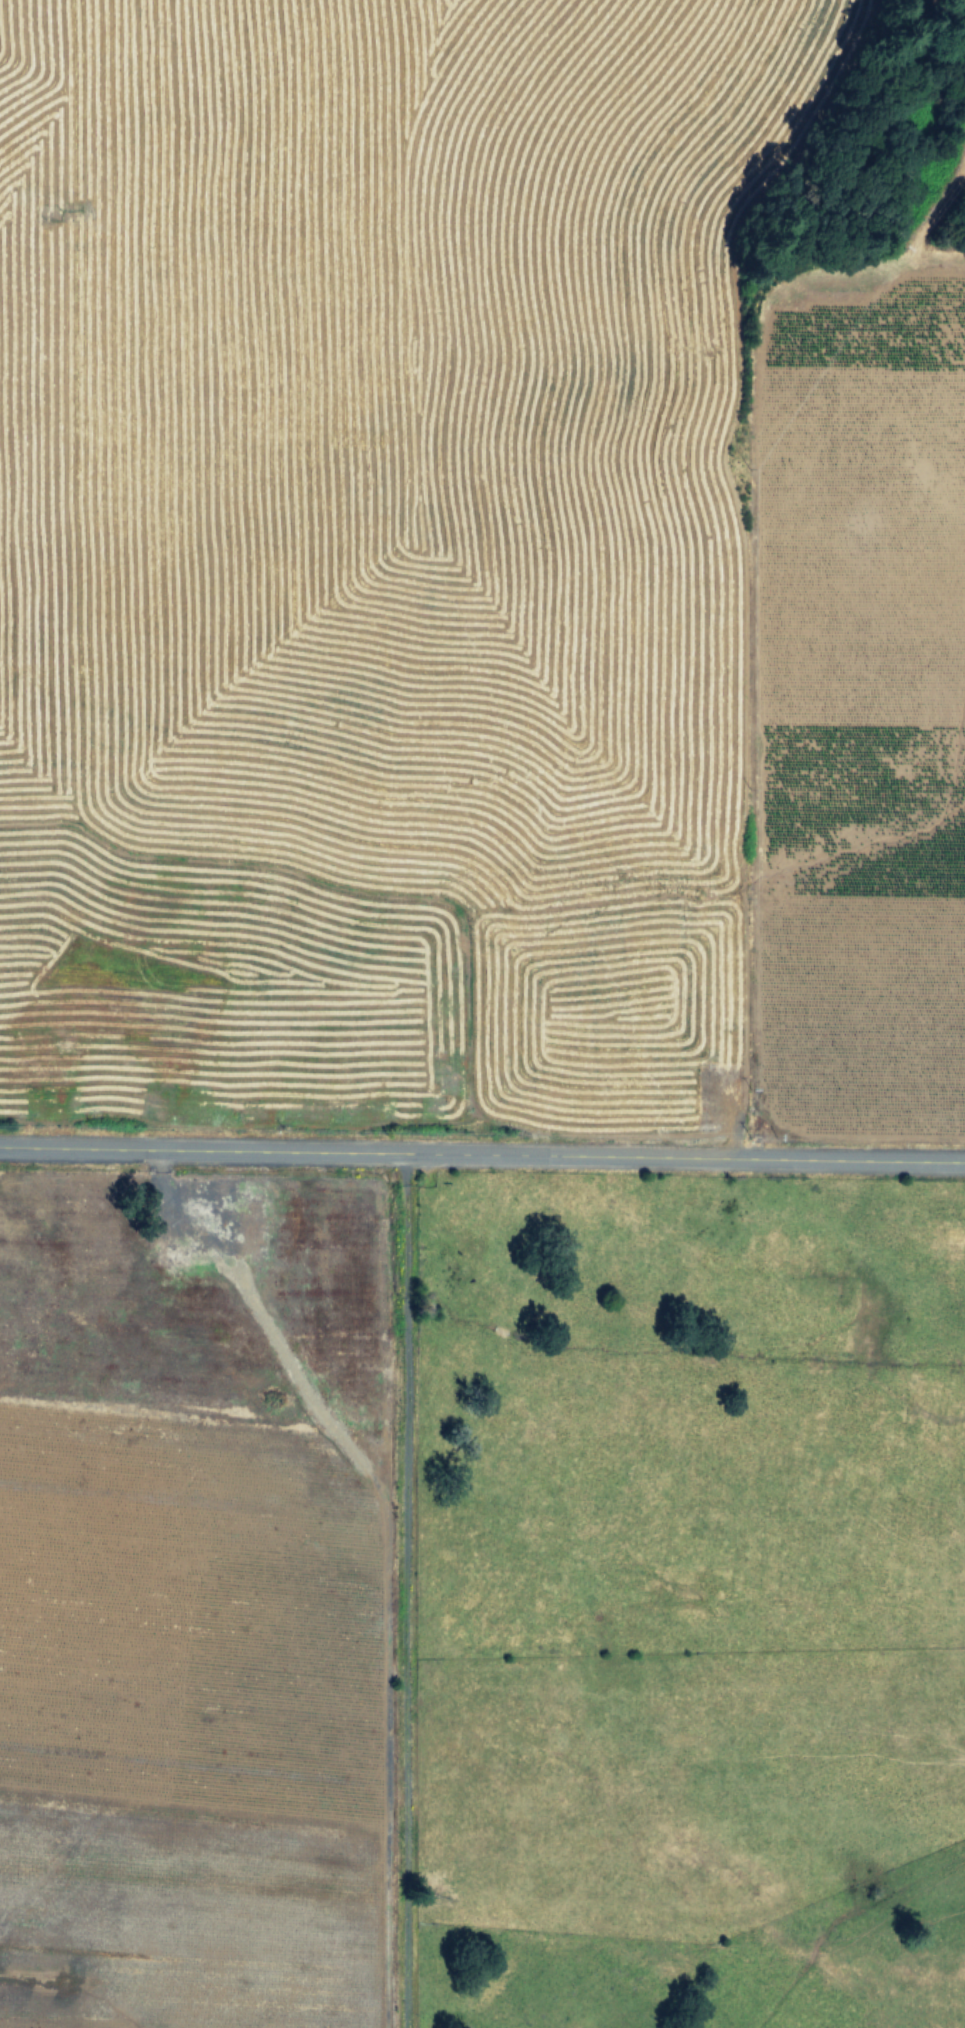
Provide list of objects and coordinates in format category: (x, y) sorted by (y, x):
crop: (468, 572)
road: (482, 1158)
road: (402, 1592)
crop: (679, 1609)

